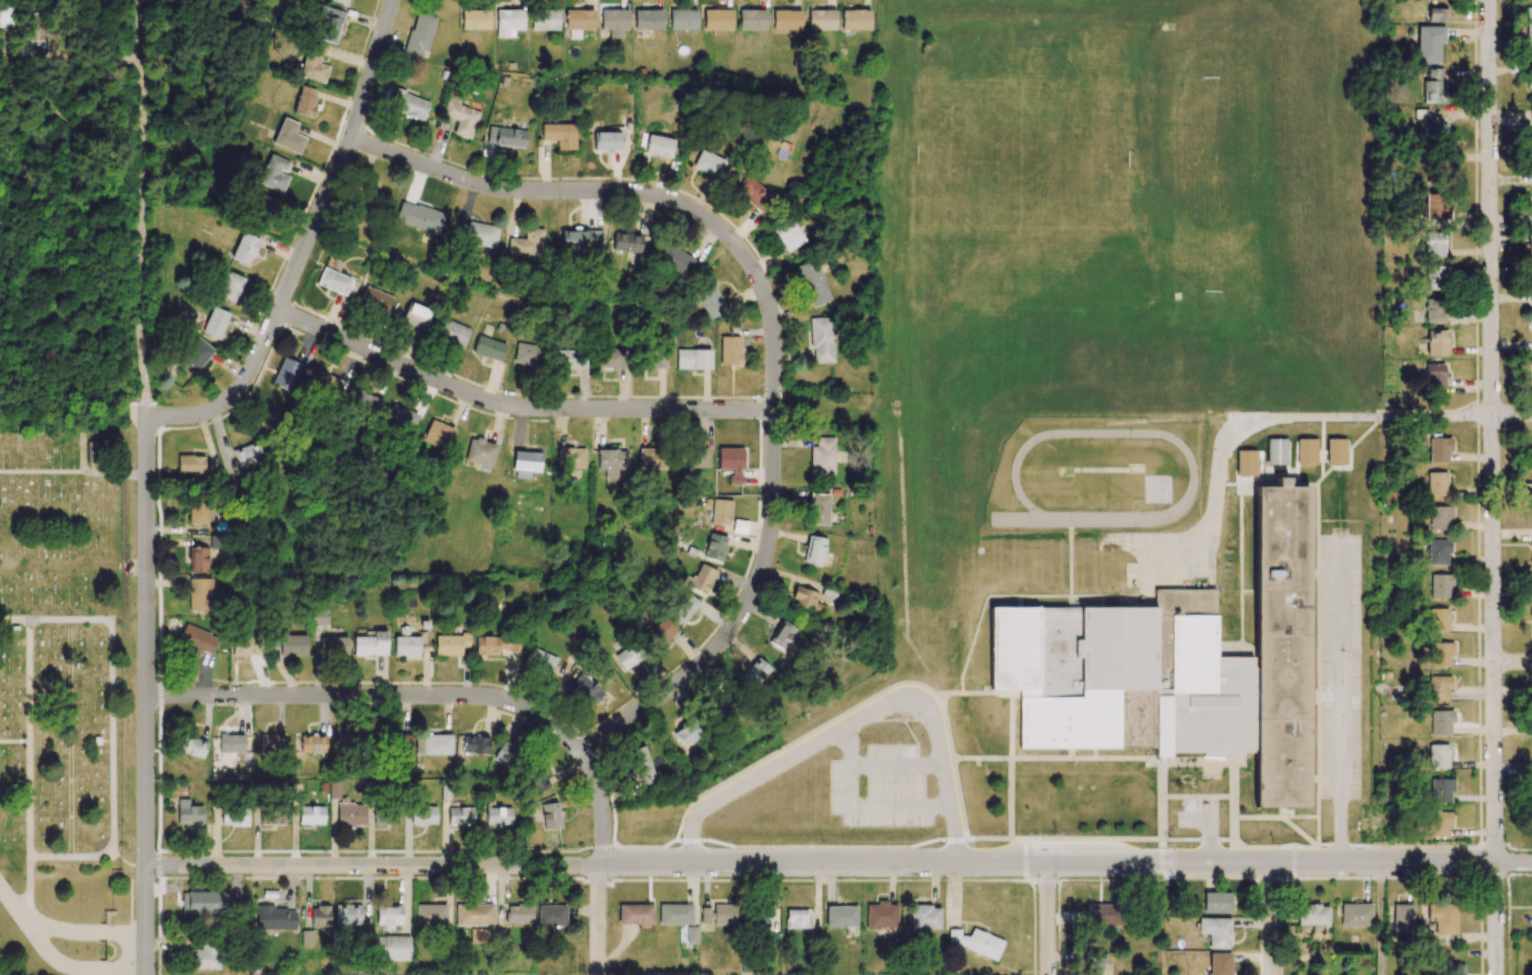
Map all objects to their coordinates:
building: (338, 1)
building: (7, 15)
building: (1437, 15)
building: (717, 18)
building: (475, 19)
building: (545, 19)
building: (648, 19)
building: (683, 19)
building: (752, 19)
building: (786, 19)
building: (821, 20)
building: (855, 20)
building: (578, 21)
building: (509, 22)
building: (614, 22)
building: (328, 24)
building: (1528, 26)
building: (419, 34)
building: (1429, 44)
road: (82, 58)
building: (313, 64)
building: (1529, 79)
building: (1432, 86)
building: (306, 101)
building: (409, 105)
building: (1526, 116)
building: (461, 118)
building: (1433, 127)
building: (559, 135)
building: (288, 136)
building: (505, 137)
building: (606, 141)
building: (658, 146)
road: (342, 158)
building: (708, 163)
building: (1434, 167)
building: (274, 173)
building: (1531, 179)
road: (634, 192)
building: (754, 194)
building: (1531, 196)
building: (264, 206)
building: (1435, 206)
building: (418, 217)
road: (141, 220)
building: (477, 234)
building: (788, 235)
building: (581, 241)
building: (626, 242)
building: (526, 243)
building: (1433, 246)
building: (245, 248)
building: (1529, 250)
building: (675, 259)
building: (1434, 277)
building: (333, 281)
building: (812, 283)
building: (230, 286)
building: (1531, 286)
building: (375, 299)
building: (710, 300)
building: (1433, 310)
building: (416, 316)
building: (215, 322)
building: (453, 333)
building: (821, 340)
building: (1436, 343)
building: (489, 348)
building: (730, 350)
building: (528, 354)
building: (195, 355)
building: (611, 358)
building: (574, 359)
building: (656, 359)
building: (693, 359)
building: (285, 373)
building: (1434, 375)
road: (225, 379)
building: (327, 384)
building: (364, 402)
road: (514, 407)
road: (1512, 414)
road: (1266, 417)
building: (402, 418)
building: (439, 435)
building: (1531, 444)
building: (1438, 450)
building: (1276, 451)
building: (1306, 451)
building: (1336, 451)
building: (93, 452)
building: (480, 452)
building: (247, 454)
building: (822, 456)
building: (571, 457)
building: (652, 458)
building: (692, 458)
building: (611, 461)
building: (1246, 462)
building: (527, 463)
building: (731, 463)
building: (190, 464)
building: (1435, 484)
road: (1492, 487)
building: (1530, 491)
building: (818, 509)
building: (198, 511)
building: (720, 512)
building: (1438, 517)
building: (715, 547)
building: (814, 550)
building: (1437, 552)
building: (198, 559)
building: (702, 579)
building: (1439, 586)
building: (200, 594)
building: (806, 600)
building: (683, 607)
building: (319, 617)
road: (738, 617)
building: (1436, 620)
building: (642, 623)
building: (662, 630)
building: (782, 635)
road: (145, 639)
building: (197, 639)
building: (371, 644)
building: (406, 644)
building: (450, 644)
building: (293, 645)
building: (496, 645)
building: (245, 646)
building: (334, 646)
building: (1441, 654)
building: (629, 655)
building: (539, 659)
building: (1250, 659)
road: (1513, 662)
building: (1071, 669)
building: (756, 672)
road: (112, 682)
building: (584, 686)
building: (1161, 688)
building: (1438, 688)
road: (371, 696)
park: (60, 699)
road: (1341, 702)
building: (724, 704)
road: (855, 718)
building: (1440, 722)
building: (1161, 726)
building: (688, 732)
road: (29, 738)
building: (403, 740)
building: (231, 743)
building: (271, 743)
building: (348, 743)
building: (309, 744)
building: (433, 744)
building: (475, 745)
building: (192, 747)
building: (504, 754)
building: (1437, 756)
road: (892, 764)
building: (644, 766)
building: (537, 782)
building: (333, 790)
building: (1440, 790)
road: (859, 806)
building: (188, 812)
building: (272, 814)
building: (350, 814)
building: (423, 814)
building: (311, 815)
building: (550, 815)
building: (234, 816)
building: (460, 816)
building: (498, 816)
building: (386, 817)
building: (1438, 824)
road: (1206, 834)
road: (75, 857)
road: (601, 861)
road: (838, 863)
road: (29, 890)
road: (14, 901)
building: (204, 902)
building: (1216, 902)
building: (519, 913)
building: (347, 914)
building: (474, 914)
building: (635, 914)
building: (675, 914)
building: (724, 914)
building: (430, 915)
building: (551, 915)
building: (706, 915)
building: (881, 915)
building: (1105, 915)
building: (1312, 915)
building: (1355, 915)
building: (320, 916)
building: (388, 916)
building: (841, 916)
building: (1442, 916)
building: (275, 918)
building: (796, 918)
building: (925, 918)
road: (1048, 918)
road: (1271, 919)
building: (1402, 919)
road: (146, 921)
road: (87, 930)
building: (1216, 931)
building: (691, 934)
building: (479, 936)
building: (307, 938)
building: (976, 943)
building: (392, 947)
building: (204, 957)
building: (1094, 963)
building: (1219, 964)
building: (1452, 968)
road: (75, 969)

